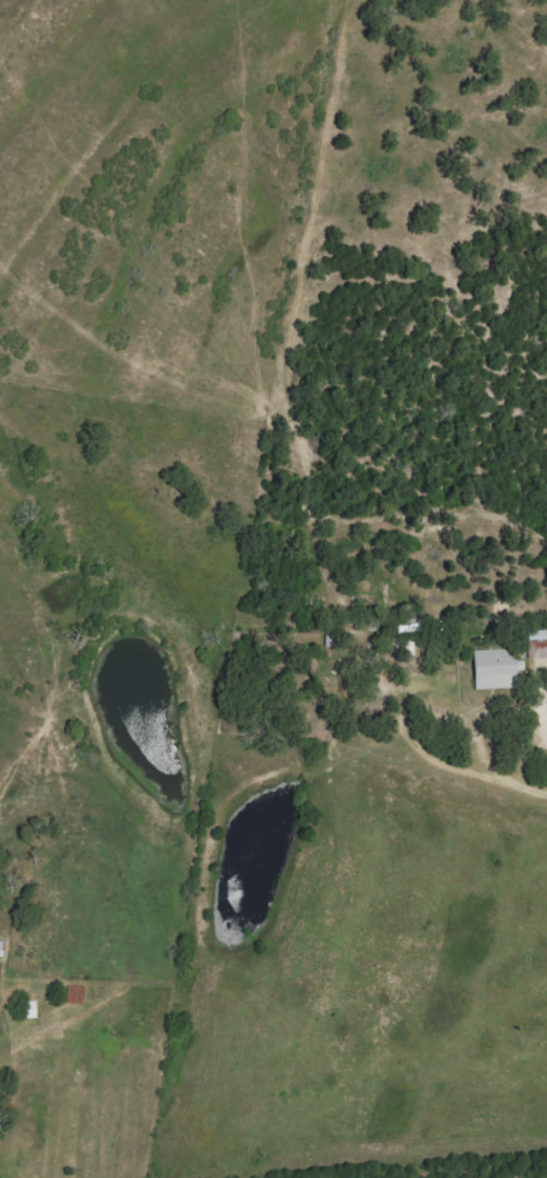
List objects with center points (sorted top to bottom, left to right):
building: (537, 645)
building: (495, 670)
road: (487, 776)
building: (1, 949)
building: (75, 996)

